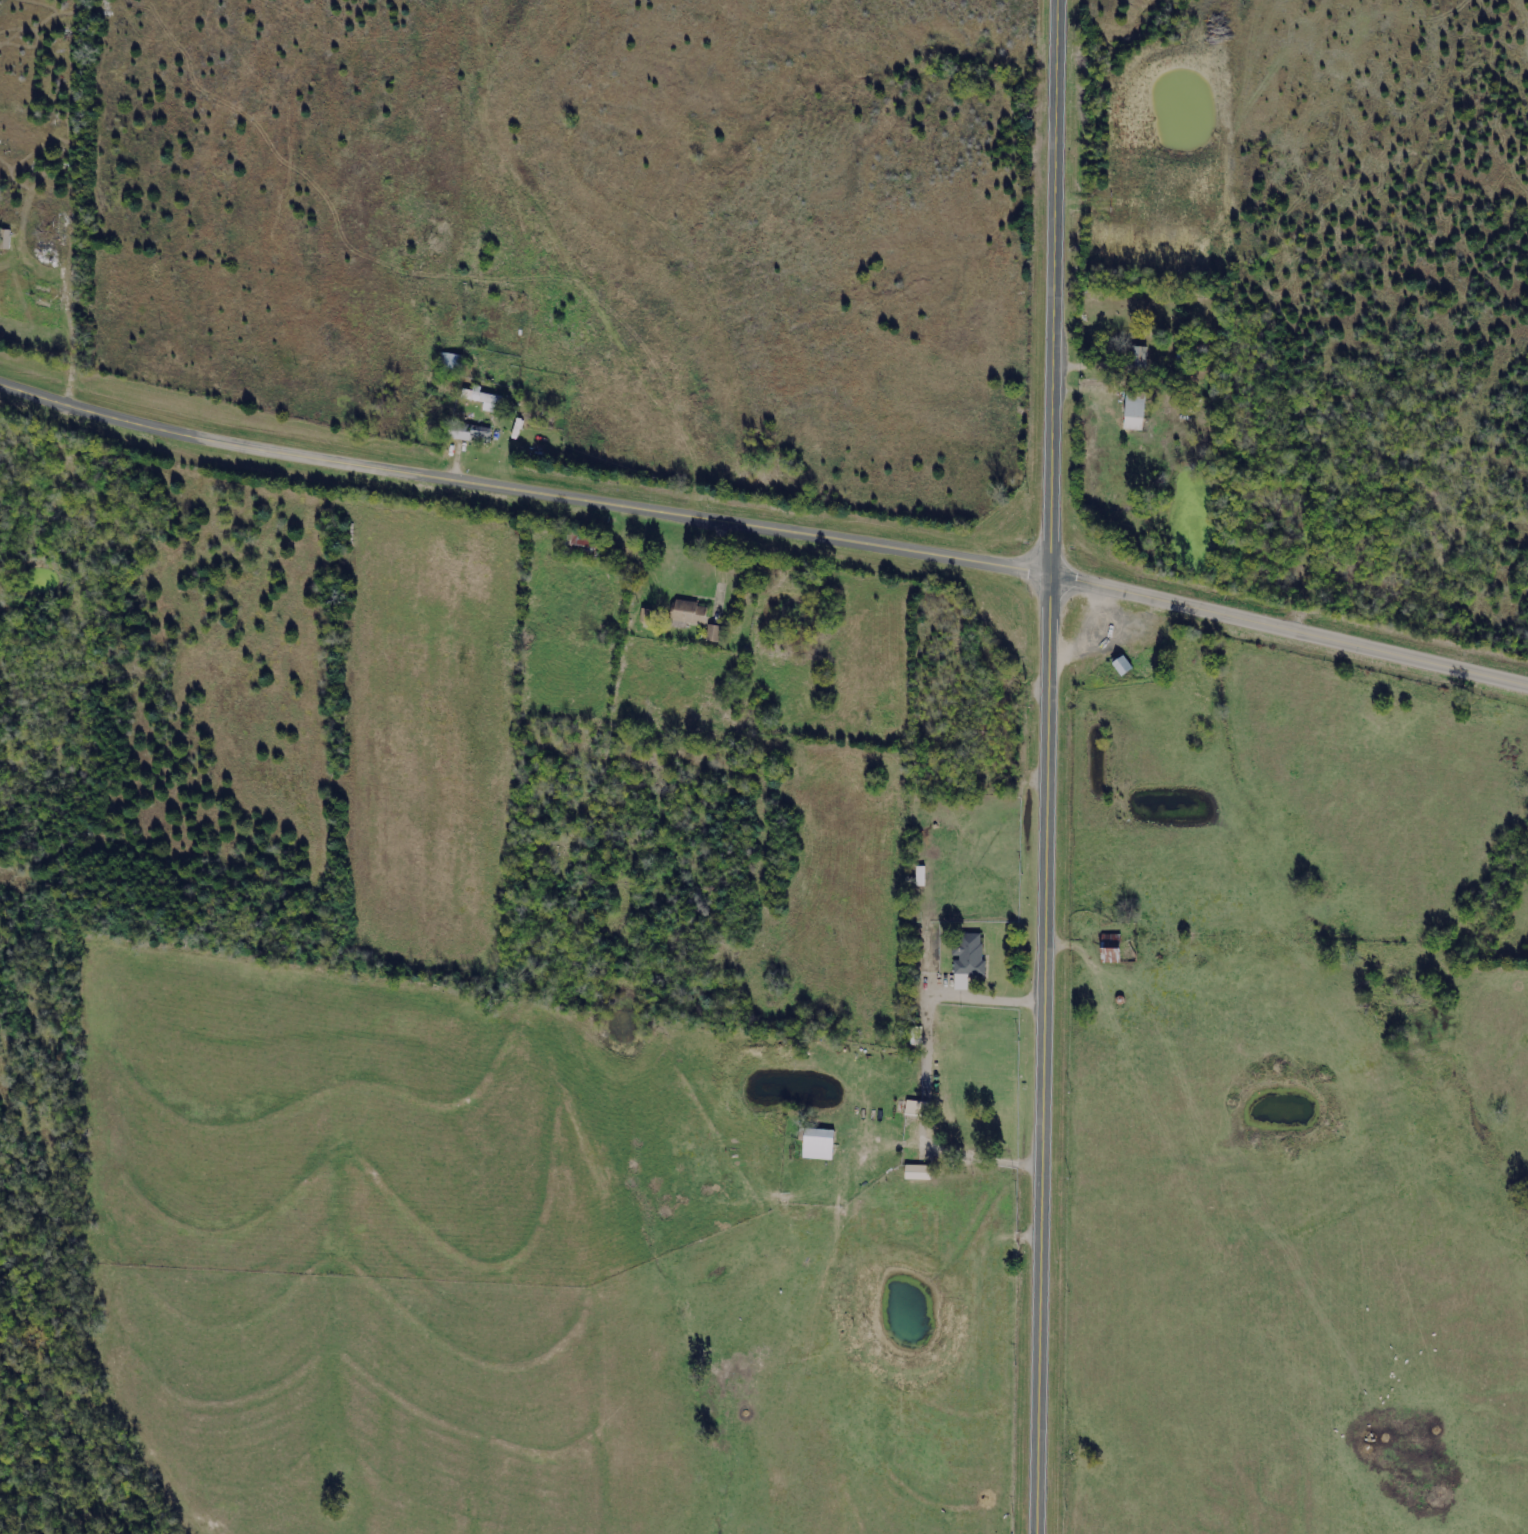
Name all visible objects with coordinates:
building: (1141, 359)
building: (488, 398)
building: (1137, 409)
building: (474, 431)
road: (523, 486)
building: (694, 612)
road: (1290, 626)
building: (718, 632)
road: (1048, 767)
building: (972, 958)
building: (822, 1143)

